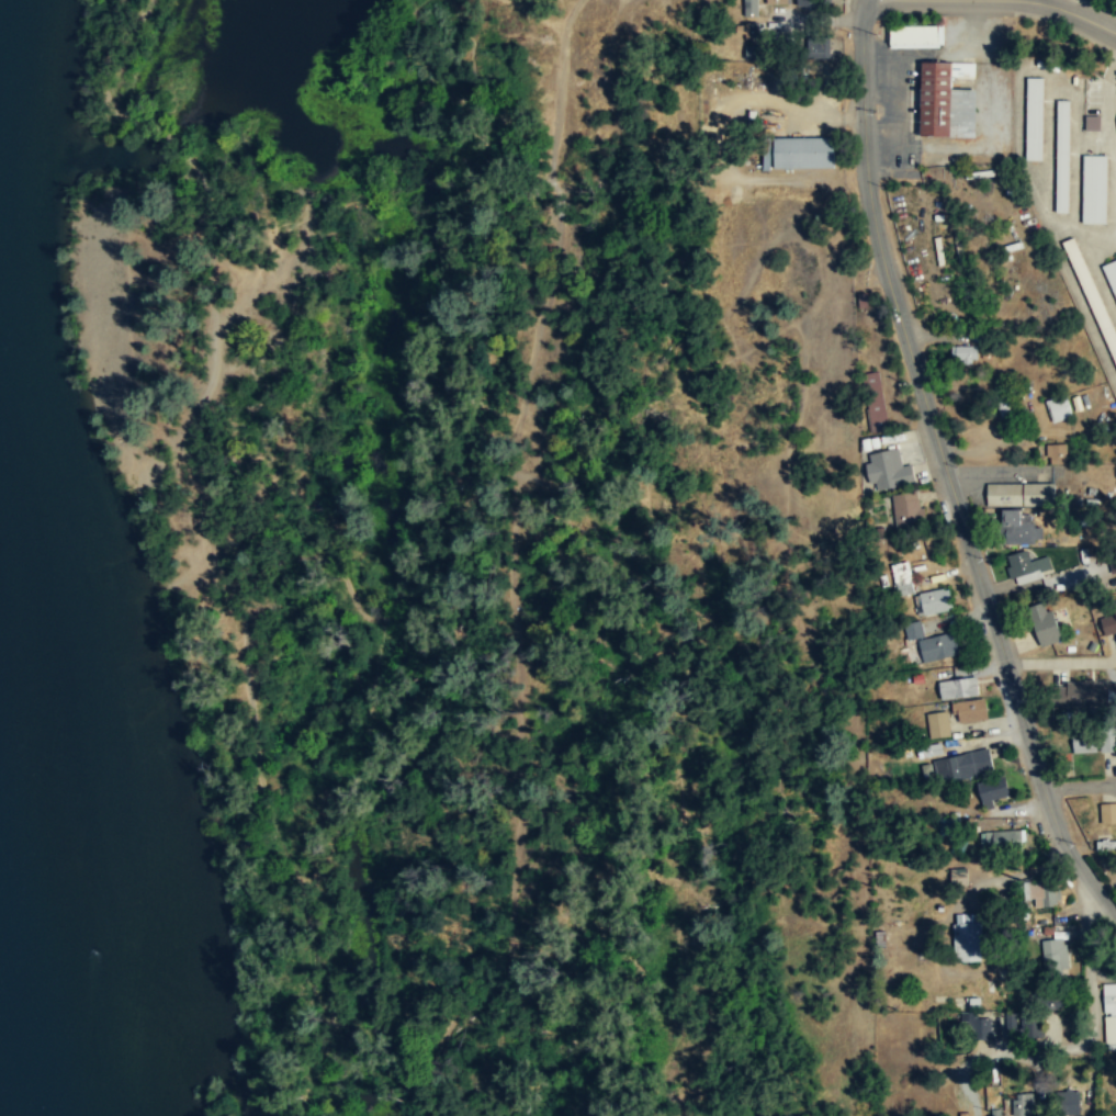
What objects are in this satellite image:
building: (777, 1)
building: (807, 2)
road: (1029, 3)
building: (751, 9)
river: (2, 14)
building: (914, 37)
building: (819, 47)
road: (559, 56)
building: (946, 100)
building: (1034, 119)
building: (1091, 122)
building: (803, 153)
road: (1109, 155)
building: (1062, 156)
building: (1094, 189)
building: (1112, 272)
building: (963, 354)
building: (875, 402)
building: (1004, 403)
building: (1058, 408)
building: (1056, 453)
building: (888, 471)
road: (946, 472)
building: (1019, 495)
building: (906, 510)
building: (1018, 529)
building: (1026, 567)
building: (902, 578)
building: (932, 601)
building: (1042, 623)
building: (1109, 623)
building: (920, 629)
building: (938, 646)
building: (958, 687)
building: (1083, 692)
building: (969, 710)
building: (938, 725)
building: (1094, 740)
building: (962, 766)
road: (1079, 785)
building: (993, 791)
building: (1107, 813)
building: (1002, 841)
building: (1106, 846)
building: (958, 877)
building: (1041, 894)
river: (31, 932)
building: (967, 937)
building: (1053, 955)
building: (1048, 1001)
road: (1089, 1014)
building: (1109, 1015)
building: (1030, 1028)
building: (980, 1030)
building: (989, 1075)
building: (1068, 1104)
building: (1022, 1106)

